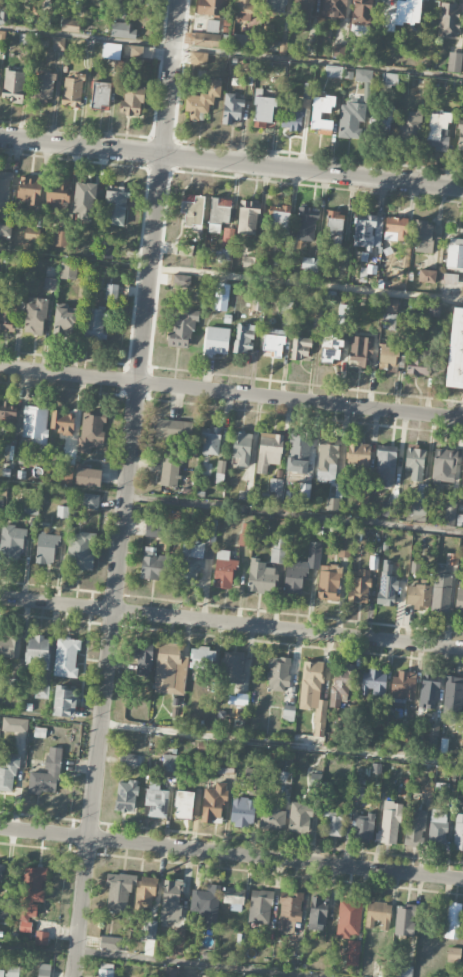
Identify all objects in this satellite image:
building: (276, 5)
building: (213, 7)
building: (334, 8)
building: (246, 9)
building: (407, 12)
building: (361, 13)
building: (300, 15)
building: (450, 21)
building: (388, 22)
building: (213, 26)
building: (122, 31)
building: (207, 39)
building: (58, 43)
building: (243, 43)
building: (285, 49)
building: (111, 51)
building: (142, 52)
building: (340, 52)
road: (231, 53)
building: (198, 60)
building: (455, 63)
building: (333, 71)
building: (363, 75)
building: (13, 85)
building: (43, 88)
building: (72, 91)
building: (100, 95)
building: (202, 101)
building: (132, 102)
building: (232, 109)
building: (263, 109)
building: (322, 114)
building: (293, 116)
building: (351, 120)
building: (380, 120)
building: (410, 128)
building: (438, 131)
building: (460, 137)
road: (231, 164)
building: (5, 189)
building: (29, 189)
building: (58, 199)
building: (84, 201)
building: (116, 205)
building: (193, 211)
building: (219, 214)
building: (248, 218)
building: (280, 223)
building: (335, 223)
building: (306, 224)
building: (396, 229)
building: (5, 230)
building: (368, 230)
building: (31, 236)
building: (423, 237)
building: (61, 238)
building: (454, 254)
building: (223, 257)
building: (310, 263)
building: (67, 271)
building: (427, 276)
road: (231, 278)
building: (180, 281)
building: (50, 284)
building: (18, 285)
building: (111, 292)
building: (390, 305)
building: (344, 314)
building: (36, 317)
building: (7, 319)
building: (63, 322)
building: (95, 324)
building: (182, 328)
building: (244, 338)
building: (216, 341)
building: (273, 344)
building: (301, 348)
building: (329, 348)
building: (361, 351)
building: (456, 352)
building: (388, 358)
building: (418, 362)
road: (231, 392)
building: (7, 417)
building: (62, 422)
building: (35, 425)
building: (173, 429)
building: (91, 433)
building: (210, 441)
building: (242, 448)
building: (269, 451)
building: (298, 453)
building: (358, 455)
building: (415, 462)
building: (444, 465)
building: (386, 466)
building: (170, 468)
building: (66, 471)
building: (220, 471)
building: (88, 477)
building: (462, 477)
road: (126, 488)
building: (276, 489)
building: (304, 491)
building: (90, 501)
building: (332, 504)
road: (231, 508)
building: (30, 509)
building: (388, 509)
building: (419, 511)
building: (62, 512)
building: (449, 513)
building: (153, 531)
building: (246, 536)
building: (12, 541)
building: (46, 548)
building: (315, 548)
building: (200, 549)
building: (279, 551)
building: (80, 552)
building: (451, 559)
building: (151, 564)
building: (416, 568)
building: (224, 570)
building: (262, 578)
building: (296, 578)
building: (328, 583)
building: (387, 585)
building: (360, 587)
building: (441, 592)
building: (419, 597)
building: (459, 601)
road: (231, 624)
building: (10, 646)
building: (38, 654)
building: (202, 657)
building: (66, 658)
building: (143, 658)
building: (233, 669)
building: (169, 671)
building: (278, 674)
building: (374, 682)
building: (341, 685)
building: (403, 687)
building: (430, 690)
building: (40, 691)
building: (453, 693)
building: (239, 696)
building: (313, 696)
building: (64, 702)
building: (289, 713)
building: (15, 725)
building: (433, 730)
building: (40, 732)
road: (231, 739)
building: (404, 742)
building: (444, 746)
building: (130, 760)
building: (169, 763)
building: (8, 772)
building: (252, 773)
building: (46, 775)
building: (357, 792)
building: (126, 796)
building: (156, 801)
building: (183, 804)
building: (213, 804)
building: (462, 808)
building: (242, 812)
building: (273, 817)
building: (300, 818)
building: (333, 824)
building: (389, 824)
building: (363, 826)
building: (414, 830)
building: (458, 833)
road: (231, 852)
building: (0, 875)
building: (32, 892)
building: (119, 892)
building: (146, 893)
building: (234, 898)
building: (171, 901)
building: (260, 907)
building: (289, 909)
building: (318, 914)
building: (378, 916)
building: (5, 917)
building: (348, 918)
building: (404, 920)
building: (452, 920)
building: (150, 930)
building: (41, 938)
building: (178, 941)
building: (109, 943)
building: (353, 953)
building: (454, 954)
road: (156, 959)
building: (380, 969)
building: (43, 970)
building: (105, 970)
building: (405, 971)
building: (170, 972)
building: (1, 973)
building: (201, 976)

